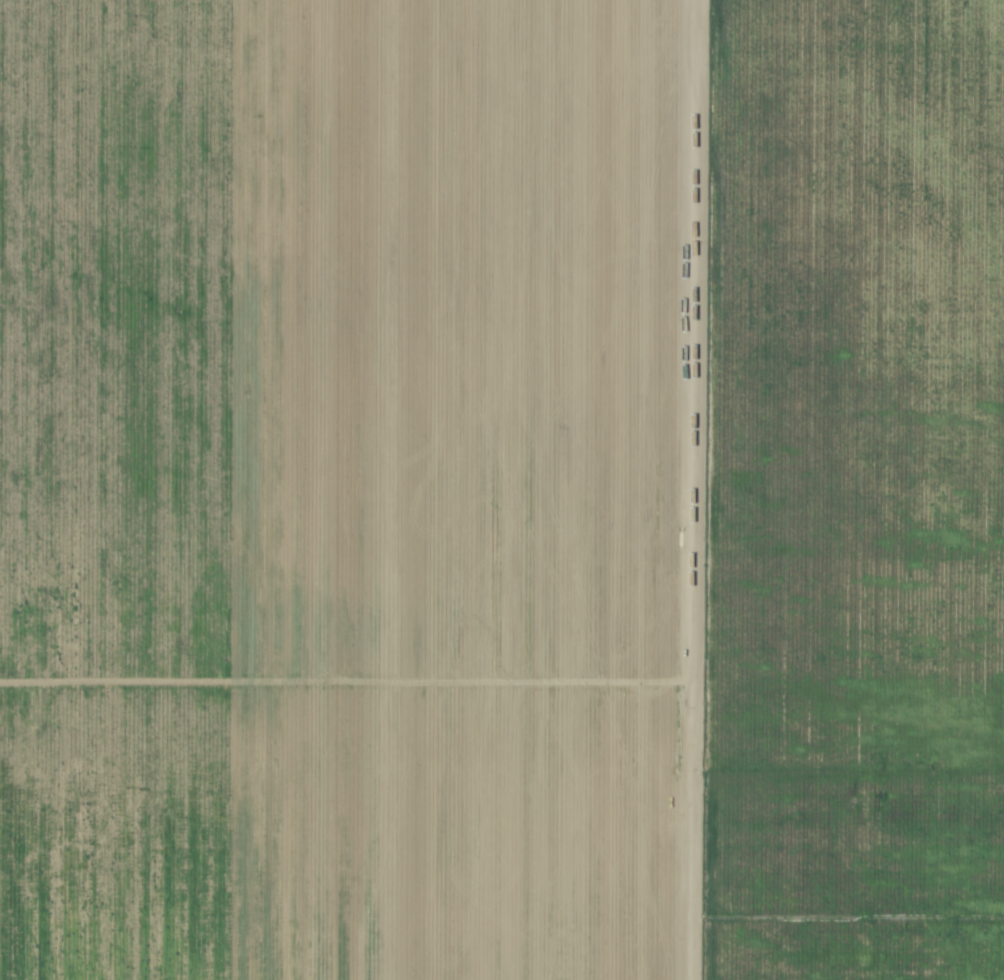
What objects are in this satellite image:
road: (692, 355)
crop: (467, 456)
crop: (857, 831)

